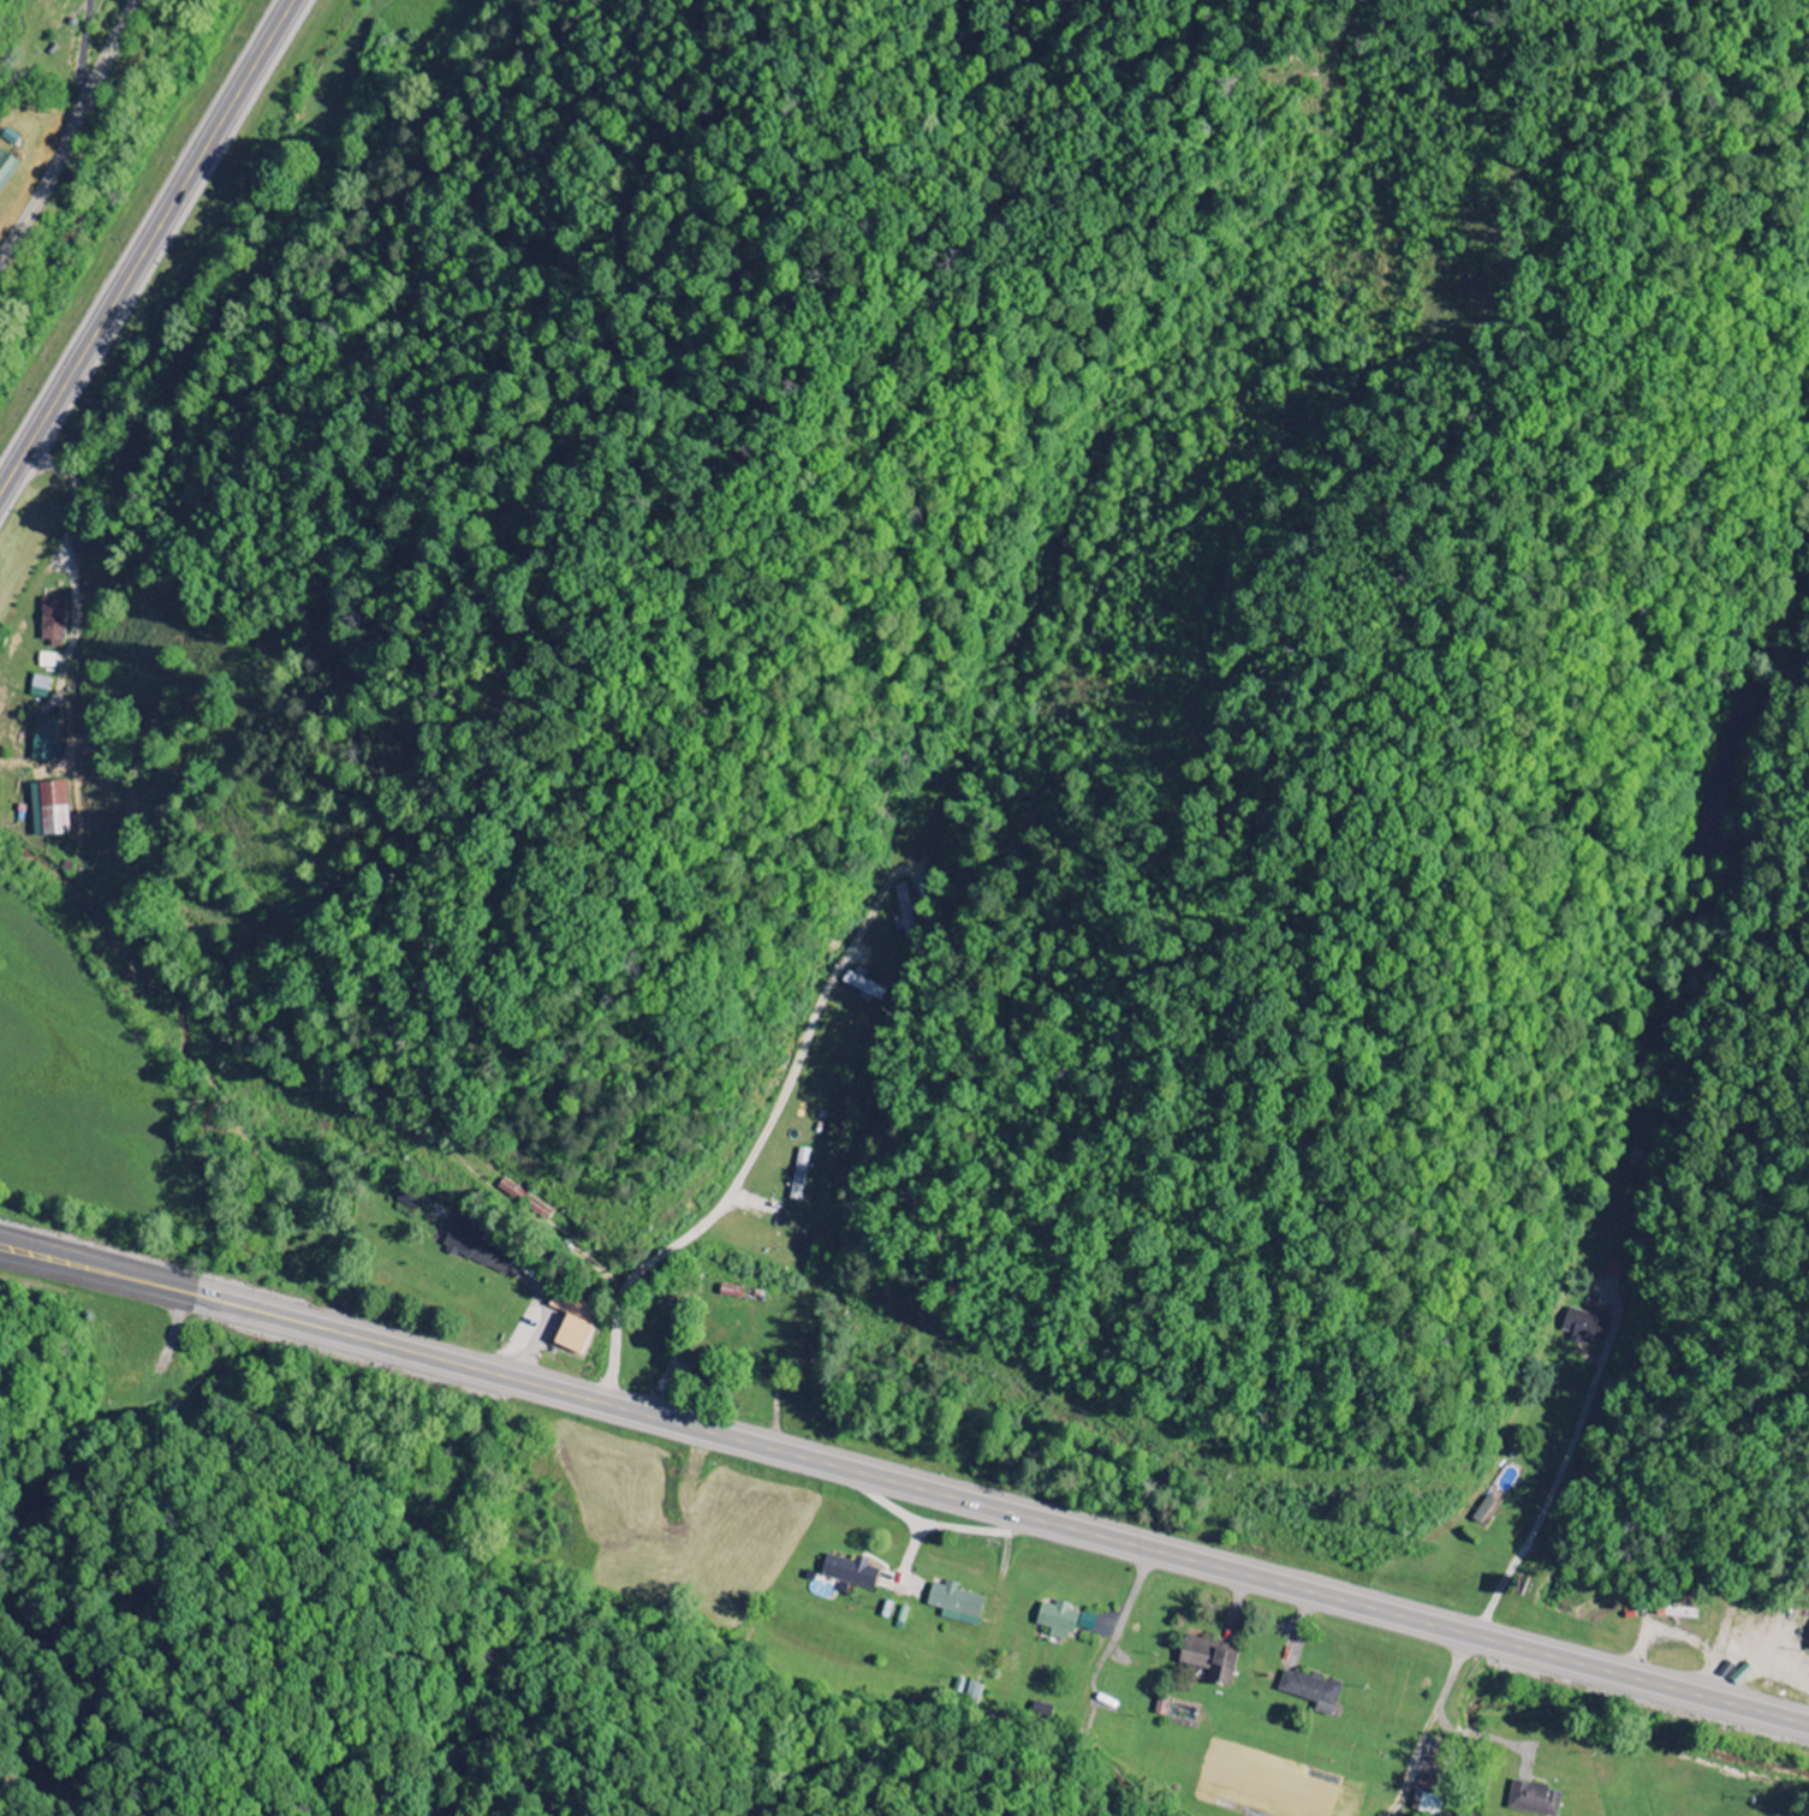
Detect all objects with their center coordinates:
road: (71, 132)
building: (6, 169)
road: (147, 248)
building: (53, 621)
building: (40, 687)
building: (46, 740)
building: (48, 810)
building: (901, 911)
building: (859, 984)
building: (797, 1175)
building: (478, 1250)
road: (37, 1251)
building: (1613, 1270)
building: (571, 1308)
building: (1584, 1326)
building: (571, 1336)
road: (904, 1483)
building: (847, 1572)
building: (954, 1604)
building: (1061, 1621)
building: (1207, 1661)
building: (1311, 1692)
building: (1533, 1799)

